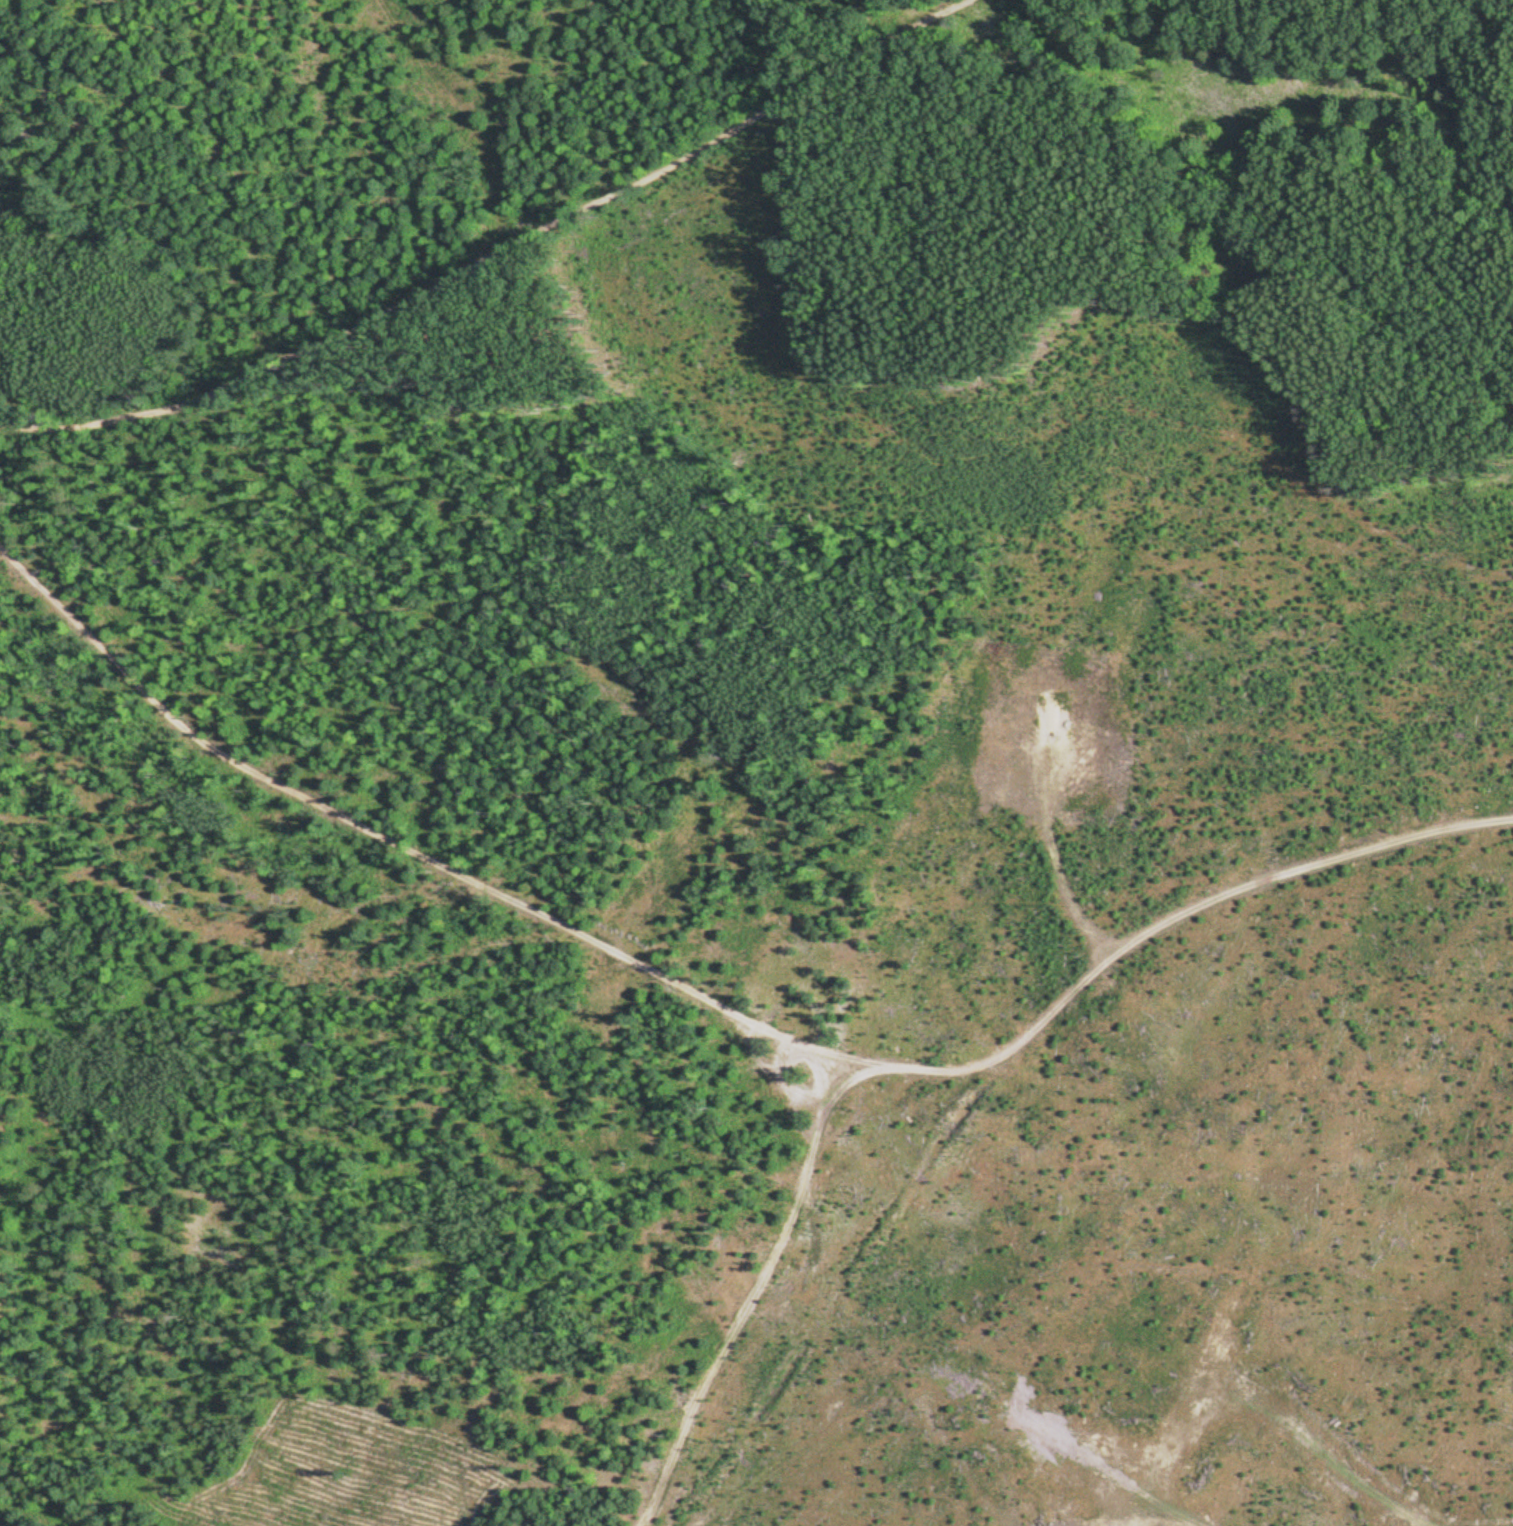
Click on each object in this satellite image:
road: (503, 254)
petroleum well: (1039, 720)
road: (726, 1009)
road: (752, 1298)

